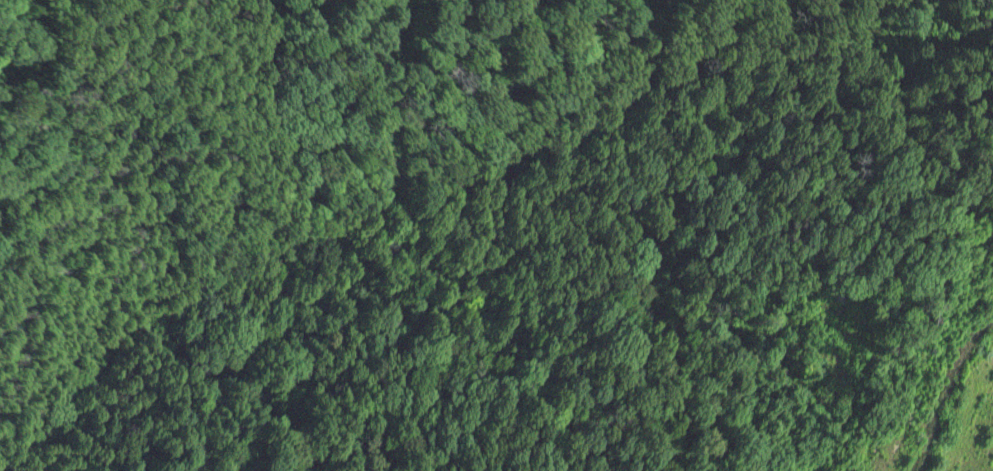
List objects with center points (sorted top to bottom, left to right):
quarry: (959, 418)

